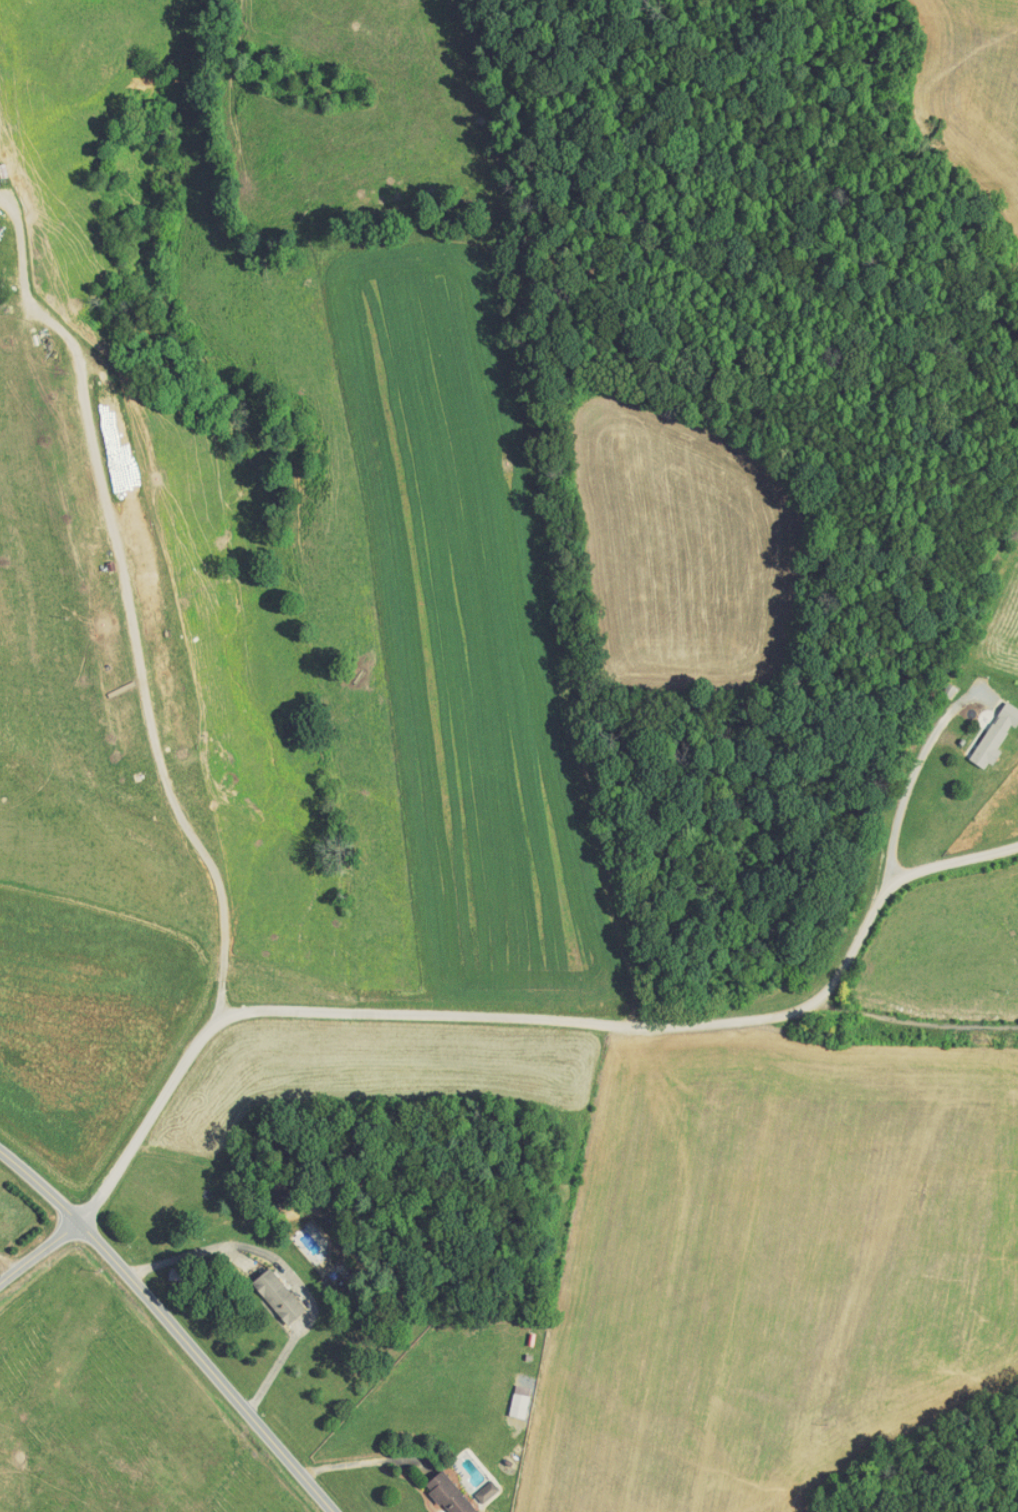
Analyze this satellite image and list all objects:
road: (117, 605)
building: (983, 727)
road: (902, 763)
road: (525, 1011)
road: (33, 1182)
road: (32, 1240)
road: (3, 1259)
building: (265, 1289)
road: (199, 1362)
building: (507, 1395)
building: (473, 1485)
building: (436, 1489)

